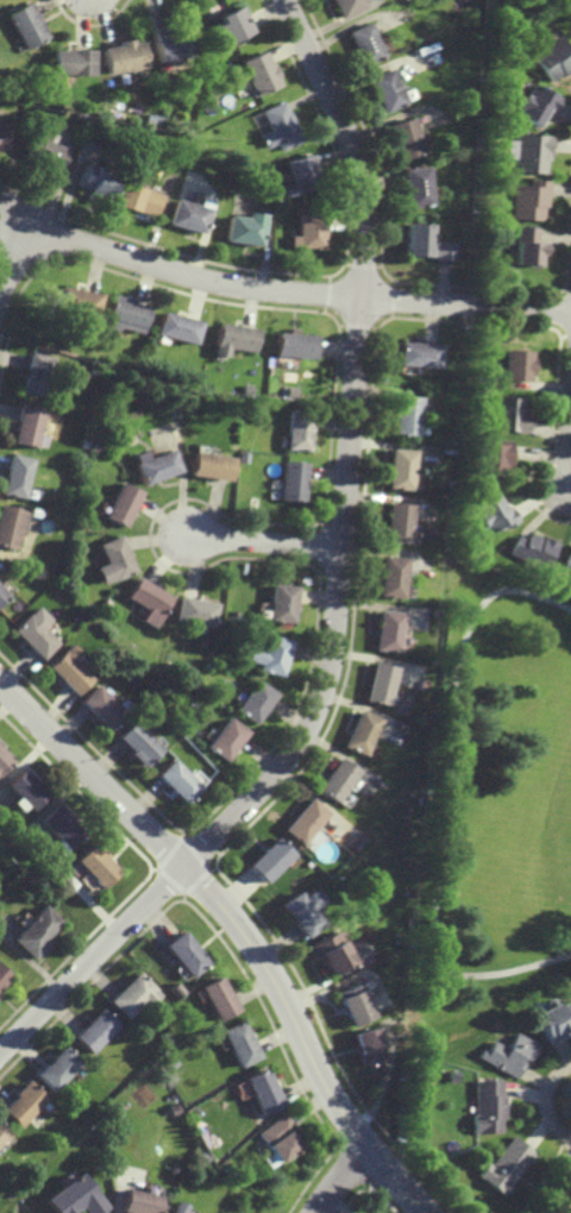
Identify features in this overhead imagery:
building: (344, 5)
building: (230, 25)
building: (27, 26)
building: (363, 40)
building: (170, 46)
building: (519, 52)
building: (504, 55)
building: (123, 57)
building: (554, 57)
building: (71, 61)
building: (258, 73)
building: (384, 89)
building: (537, 101)
building: (277, 127)
building: (403, 136)
building: (1, 142)
building: (531, 151)
building: (43, 153)
building: (300, 175)
building: (95, 180)
building: (415, 184)
building: (138, 199)
building: (528, 199)
building: (186, 216)
building: (484, 224)
building: (243, 230)
building: (307, 231)
building: (425, 241)
building: (526, 245)
road: (265, 290)
building: (76, 301)
building: (125, 314)
building: (178, 328)
building: (232, 339)
building: (294, 344)
building: (416, 354)
building: (519, 364)
building: (34, 375)
building: (494, 382)
building: (444, 408)
building: (403, 414)
building: (509, 415)
building: (26, 426)
building: (296, 430)
road: (569, 451)
building: (492, 458)
building: (153, 465)
building: (209, 466)
building: (397, 469)
building: (15, 473)
building: (290, 482)
building: (450, 482)
building: (121, 504)
building: (495, 513)
building: (395, 522)
building: (11, 526)
building: (414, 526)
road: (266, 539)
building: (533, 549)
building: (567, 559)
building: (113, 560)
building: (389, 577)
road: (341, 580)
building: (2, 595)
building: (148, 599)
building: (282, 604)
building: (195, 611)
building: (387, 631)
building: (34, 633)
building: (270, 655)
building: (70, 671)
building: (378, 685)
building: (255, 702)
building: (105, 706)
building: (359, 733)
building: (224, 739)
building: (140, 743)
building: (2, 759)
building: (178, 780)
building: (334, 781)
park: (498, 787)
building: (24, 788)
road: (439, 800)
building: (302, 823)
building: (63, 825)
building: (349, 844)
building: (265, 859)
building: (307, 863)
building: (96, 866)
building: (88, 882)
building: (409, 892)
building: (300, 909)
road: (238, 928)
building: (39, 932)
building: (327, 950)
building: (186, 955)
building: (4, 976)
building: (136, 994)
building: (217, 997)
building: (351, 1003)
building: (553, 1018)
building: (96, 1032)
building: (238, 1043)
building: (365, 1045)
building: (507, 1054)
building: (59, 1068)
building: (261, 1092)
road: (545, 1102)
building: (24, 1104)
building: (487, 1106)
building: (4, 1136)
building: (280, 1137)
building: (504, 1165)
road: (339, 1177)
road: (558, 1192)
building: (74, 1198)
building: (139, 1201)
building: (176, 1207)
building: (228, 1212)
building: (231, 1212)

